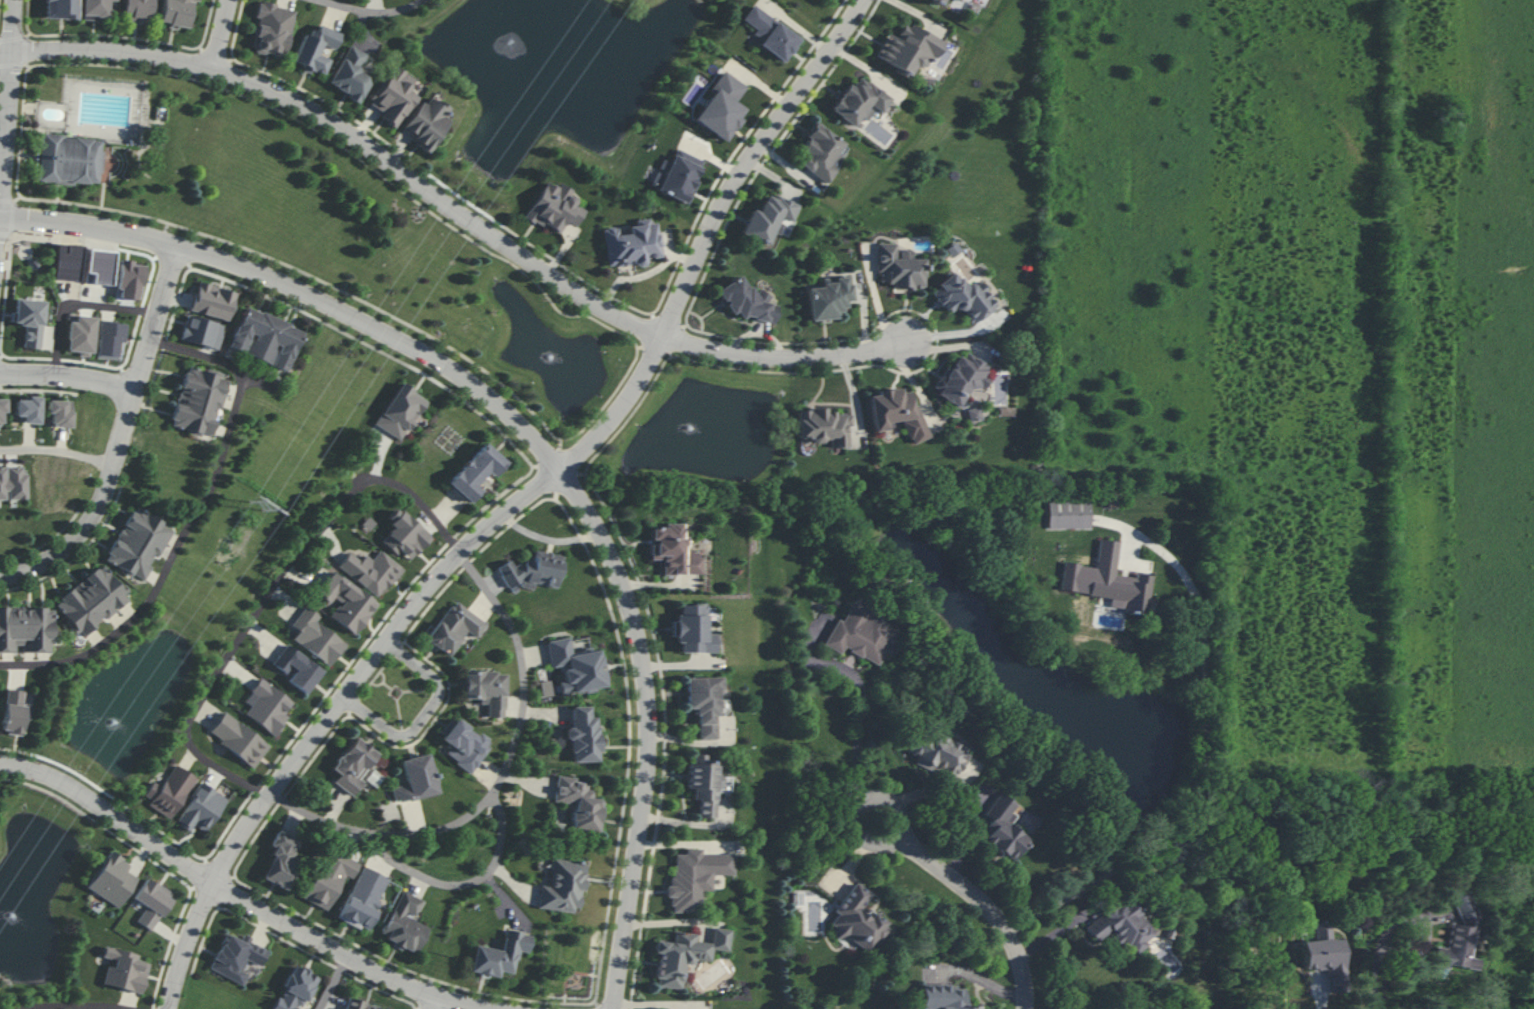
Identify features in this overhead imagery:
building: (959, 0)
building: (61, 9)
building: (94, 9)
building: (137, 11)
building: (176, 13)
road: (372, 14)
building: (272, 29)
building: (770, 33)
road: (223, 34)
building: (315, 48)
building: (908, 49)
building: (349, 74)
building: (392, 95)
building: (859, 101)
building: (721, 107)
road: (7, 116)
building: (427, 122)
road: (353, 136)
building: (820, 152)
building: (69, 159)
building: (677, 176)
building: (554, 208)
road: (1, 213)
building: (767, 218)
road: (709, 236)
building: (631, 244)
building: (66, 262)
building: (100, 265)
building: (897, 267)
building: (829, 298)
building: (964, 298)
building: (213, 301)
building: (746, 301)
road: (77, 303)
building: (29, 320)
building: (201, 332)
building: (80, 335)
building: (265, 338)
building: (110, 340)
road: (212, 357)
road: (787, 359)
road: (67, 375)
building: (960, 378)
building: (198, 401)
building: (2, 406)
building: (27, 409)
building: (400, 411)
building: (59, 412)
building: (896, 412)
building: (973, 414)
building: (823, 426)
road: (120, 436)
road: (537, 444)
road: (57, 449)
building: (475, 471)
building: (11, 482)
power tower: (258, 505)
building: (1068, 513)
building: (404, 535)
road: (452, 539)
building: (138, 543)
building: (673, 550)
road: (167, 566)
building: (371, 571)
building: (534, 571)
building: (1107, 580)
building: (91, 600)
building: (346, 603)
building: (454, 628)
building: (26, 629)
building: (693, 630)
building: (860, 634)
building: (316, 637)
building: (576, 667)
building: (296, 669)
building: (486, 690)
building: (703, 704)
building: (268, 707)
building: (13, 712)
road: (329, 715)
road: (427, 717)
road: (858, 731)
building: (583, 735)
building: (238, 740)
building: (463, 745)
building: (938, 754)
building: (352, 765)
road: (1203, 770)
building: (415, 779)
building: (705, 784)
building: (169, 791)
building: (579, 803)
road: (861, 807)
building: (201, 808)
building: (1002, 828)
building: (281, 860)
building: (694, 878)
building: (112, 880)
building: (329, 880)
road: (467, 886)
building: (563, 886)
road: (240, 893)
building: (363, 898)
building: (151, 902)
road: (995, 912)
building: (858, 922)
building: (405, 923)
building: (1122, 926)
road: (1425, 931)
building: (1461, 933)
building: (500, 954)
building: (685, 955)
building: (1326, 956)
building: (236, 957)
building: (124, 970)
road: (1372, 980)
road: (337, 982)
building: (294, 989)
road: (1315, 994)
building: (942, 997)
road: (77, 1004)
road: (438, 1004)
building: (357, 1005)

